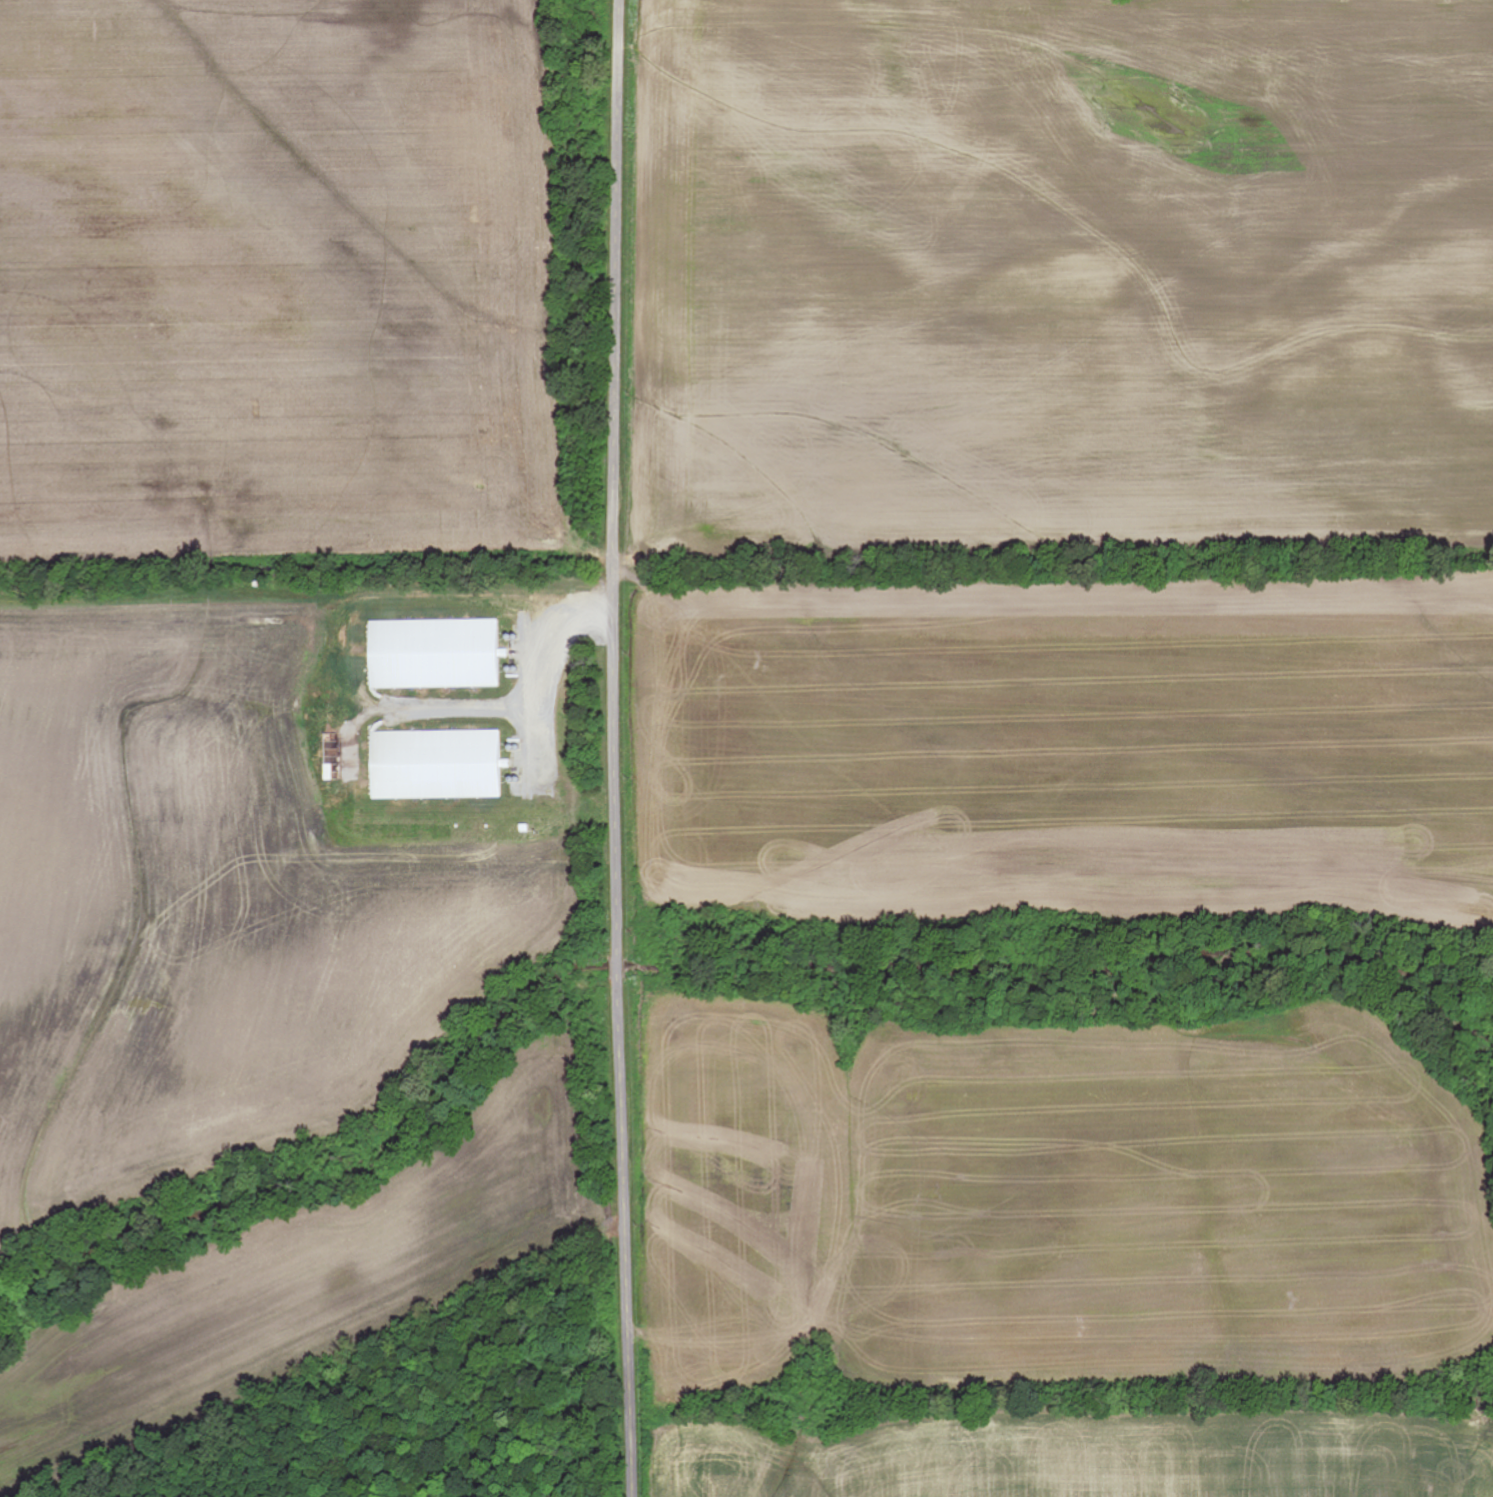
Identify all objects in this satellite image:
building: (437, 654)
road: (616, 748)
building: (439, 765)

